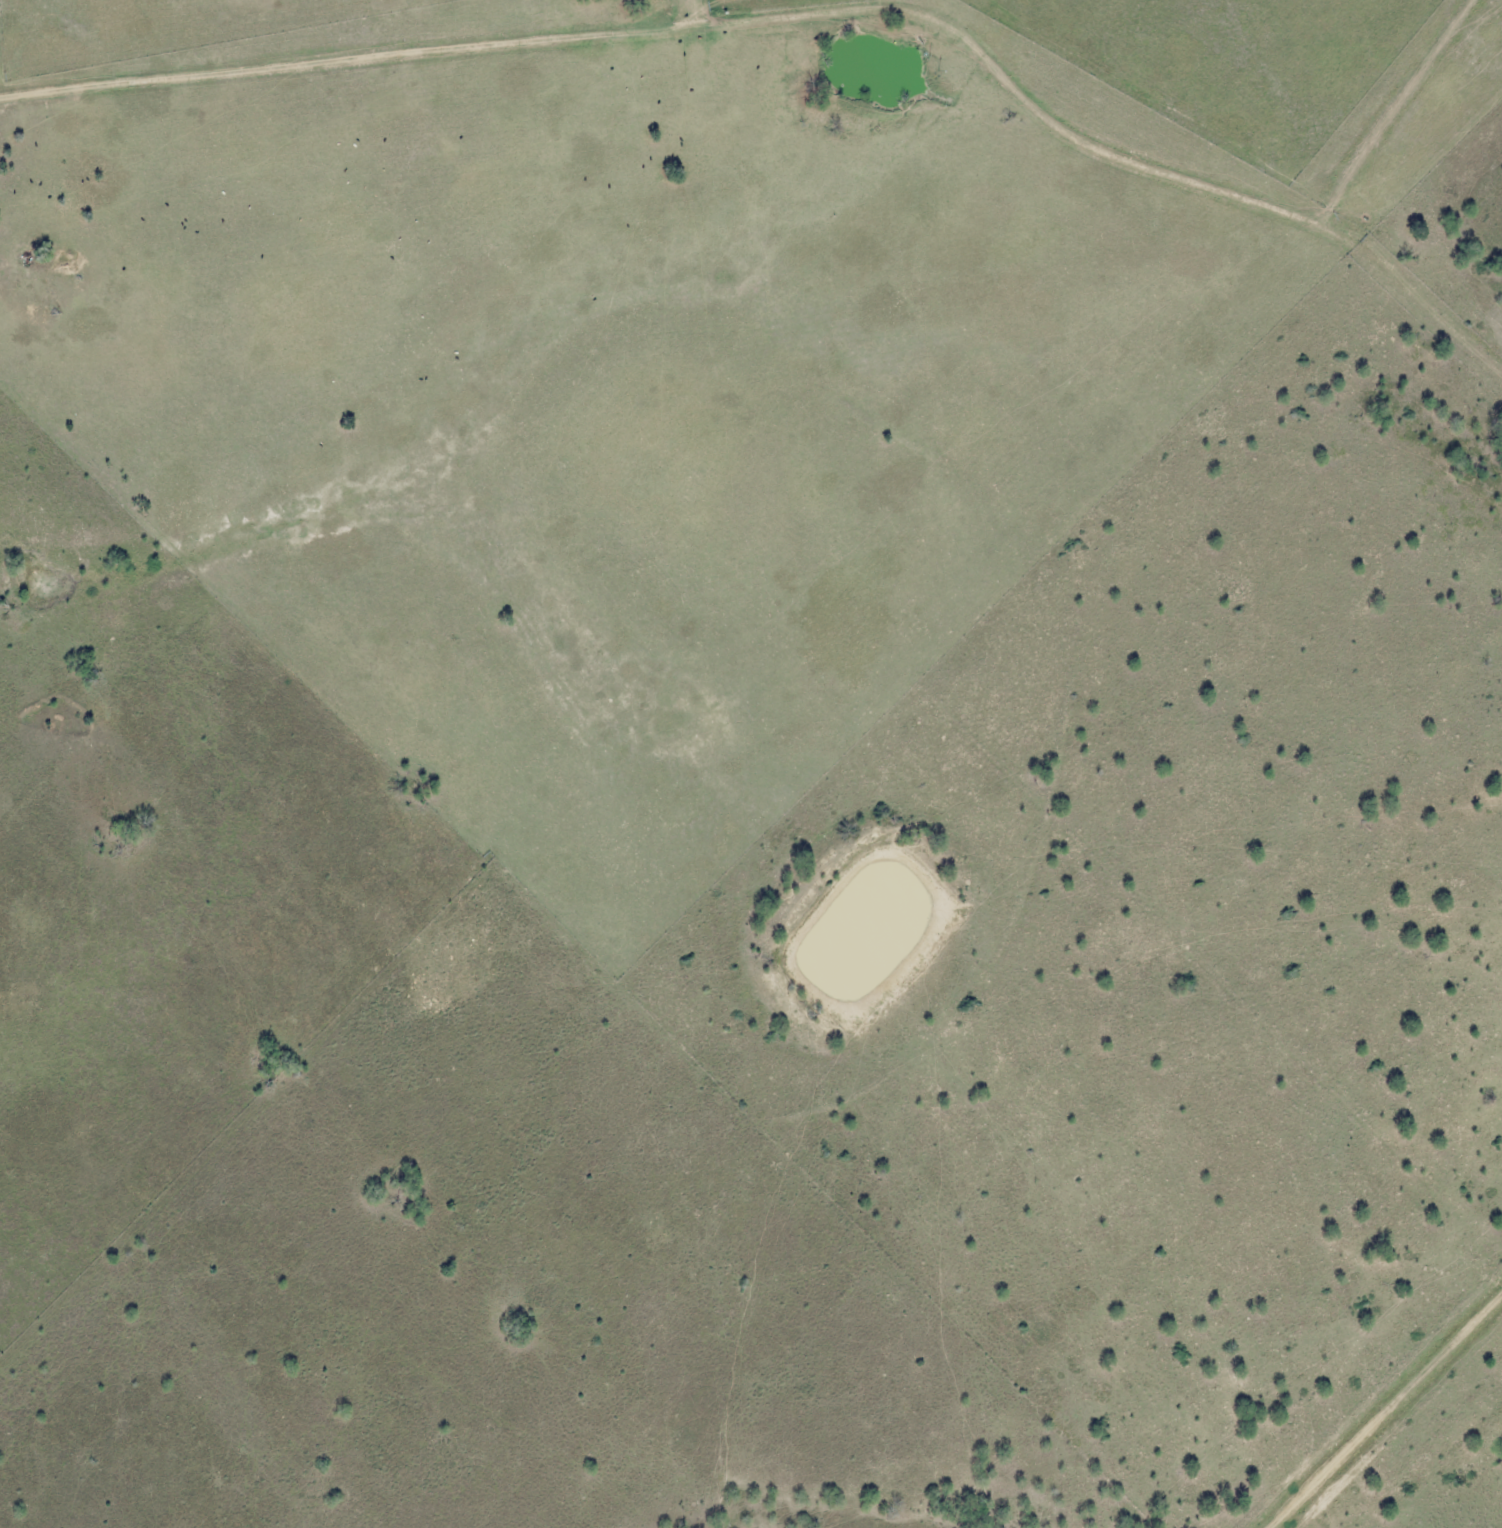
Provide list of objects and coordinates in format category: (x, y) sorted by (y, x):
road: (810, 39)

